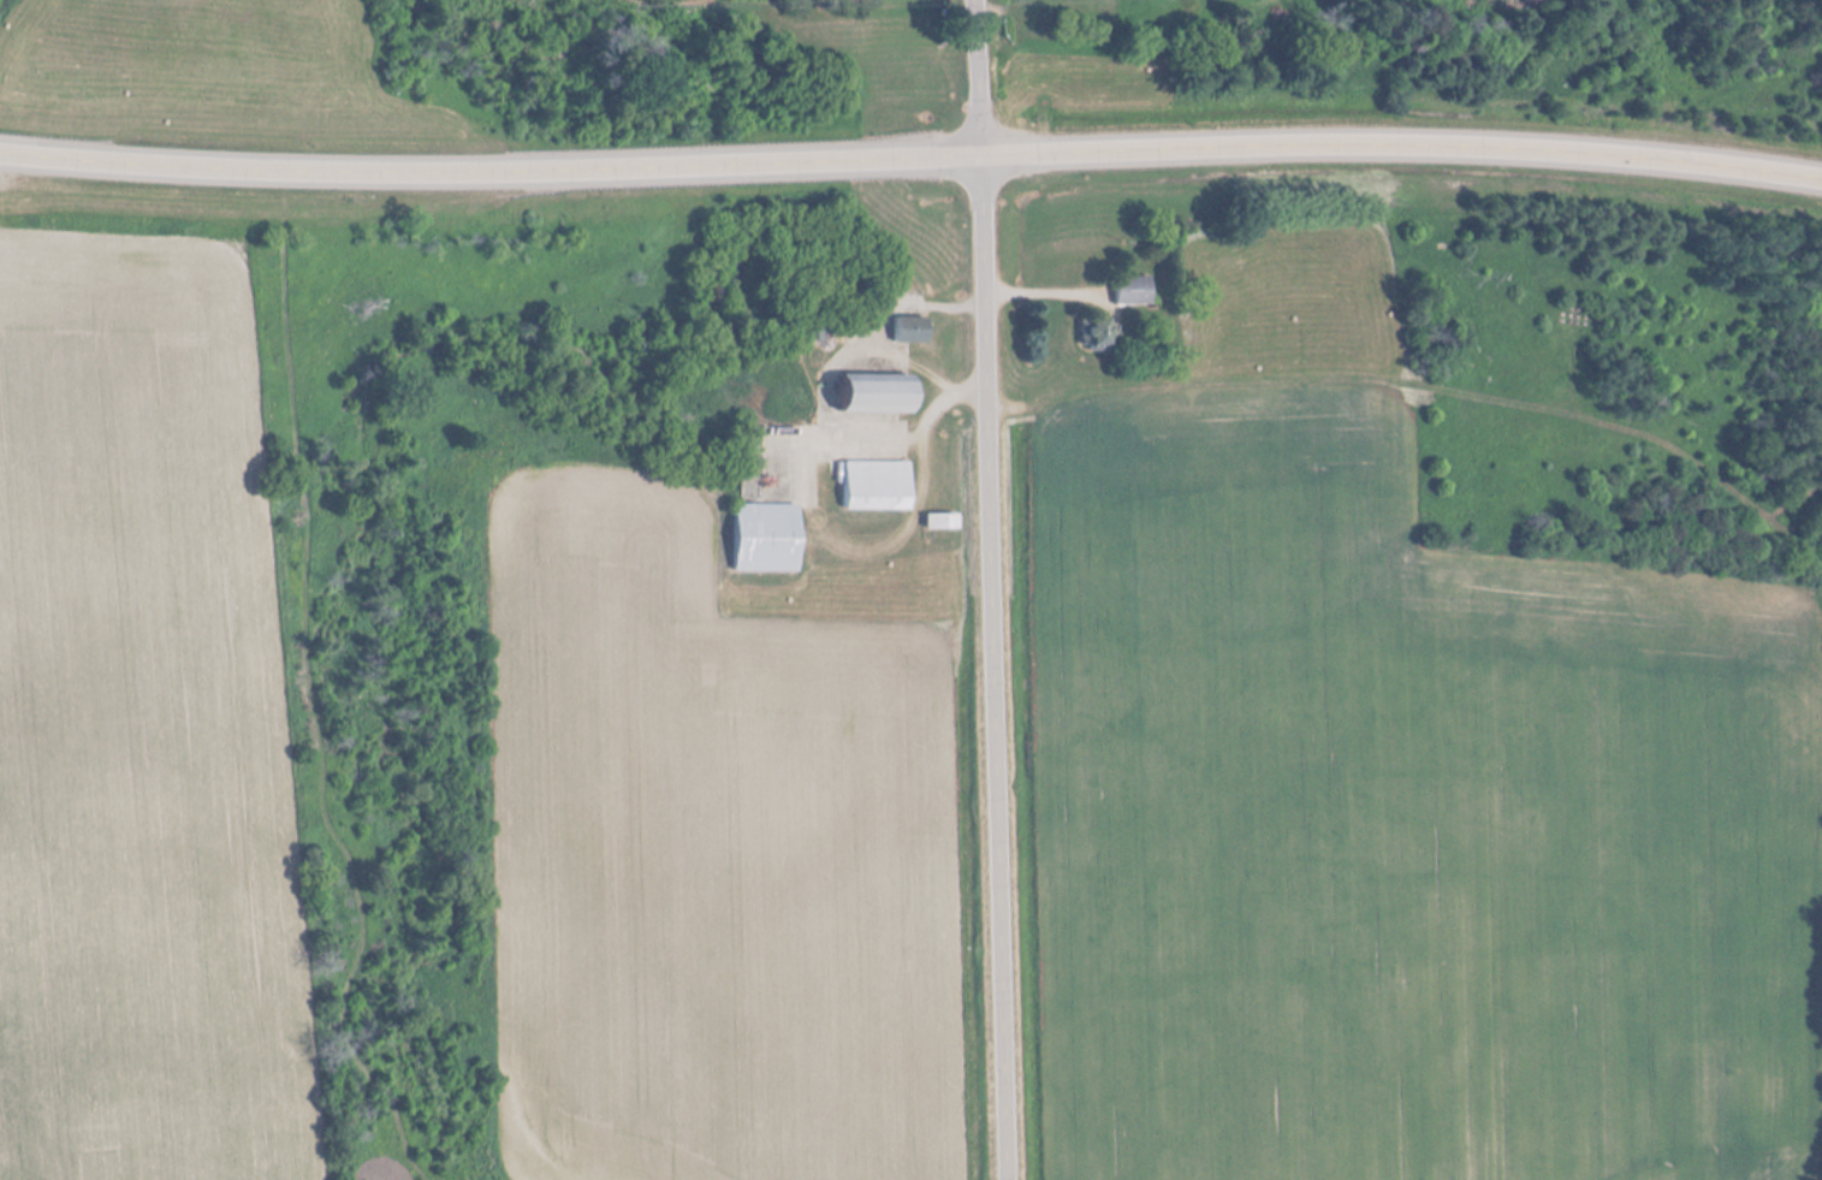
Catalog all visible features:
road: (910, 159)
building: (1133, 291)
building: (821, 324)
building: (910, 331)
building: (1097, 333)
building: (877, 393)
building: (877, 486)
building: (940, 521)
building: (765, 538)
road: (987, 589)

